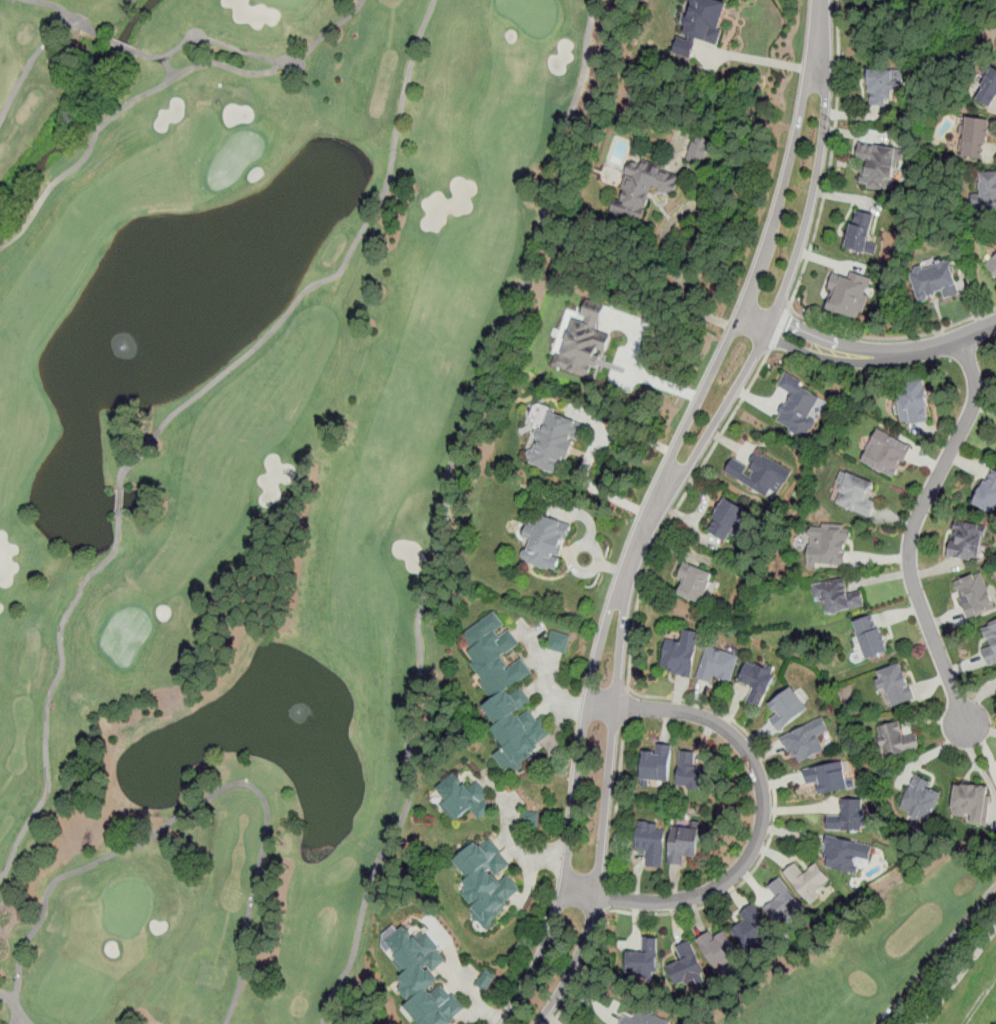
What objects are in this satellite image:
road: (68, 18)
building: (702, 24)
road: (211, 40)
road: (771, 62)
road: (168, 66)
road: (30, 68)
road: (161, 84)
building: (882, 89)
building: (988, 90)
building: (976, 138)
building: (700, 150)
building: (879, 165)
building: (642, 187)
building: (986, 192)
building: (860, 231)
road: (805, 262)
building: (992, 263)
road: (329, 277)
building: (934, 282)
road: (681, 290)
building: (849, 293)
road: (780, 327)
building: (584, 342)
road: (877, 357)
road: (733, 362)
building: (912, 403)
building: (797, 406)
building: (554, 443)
road: (590, 453)
building: (885, 454)
park: (243, 463)
building: (760, 473)
building: (988, 492)
building: (856, 495)
road: (447, 510)
road: (675, 510)
building: (726, 520)
road: (913, 530)
building: (967, 541)
building: (545, 543)
building: (828, 545)
building: (694, 582)
building: (976, 594)
building: (838, 596)
building: (871, 637)
building: (558, 642)
building: (990, 644)
building: (680, 654)
building: (718, 665)
building: (757, 680)
road: (553, 683)
building: (895, 686)
building: (506, 688)
road: (51, 690)
road: (626, 704)
building: (787, 707)
building: (806, 741)
building: (896, 741)
building: (656, 764)
building: (692, 774)
building: (829, 777)
road: (591, 786)
building: (463, 799)
building: (921, 800)
road: (617, 802)
building: (971, 804)
road: (774, 815)
road: (763, 816)
building: (849, 816)
building: (651, 842)
road: (130, 845)
building: (682, 845)
road: (522, 851)
building: (845, 854)
road: (582, 875)
building: (485, 880)
building: (808, 880)
road: (608, 896)
building: (782, 903)
building: (752, 928)
building: (719, 949)
road: (242, 951)
road: (939, 953)
park: (906, 954)
building: (643, 959)
road: (559, 962)
building: (687, 964)
road: (584, 968)
building: (423, 978)
building: (485, 981)
road: (465, 984)
road: (9, 998)
road: (20, 1016)
building: (638, 1018)

